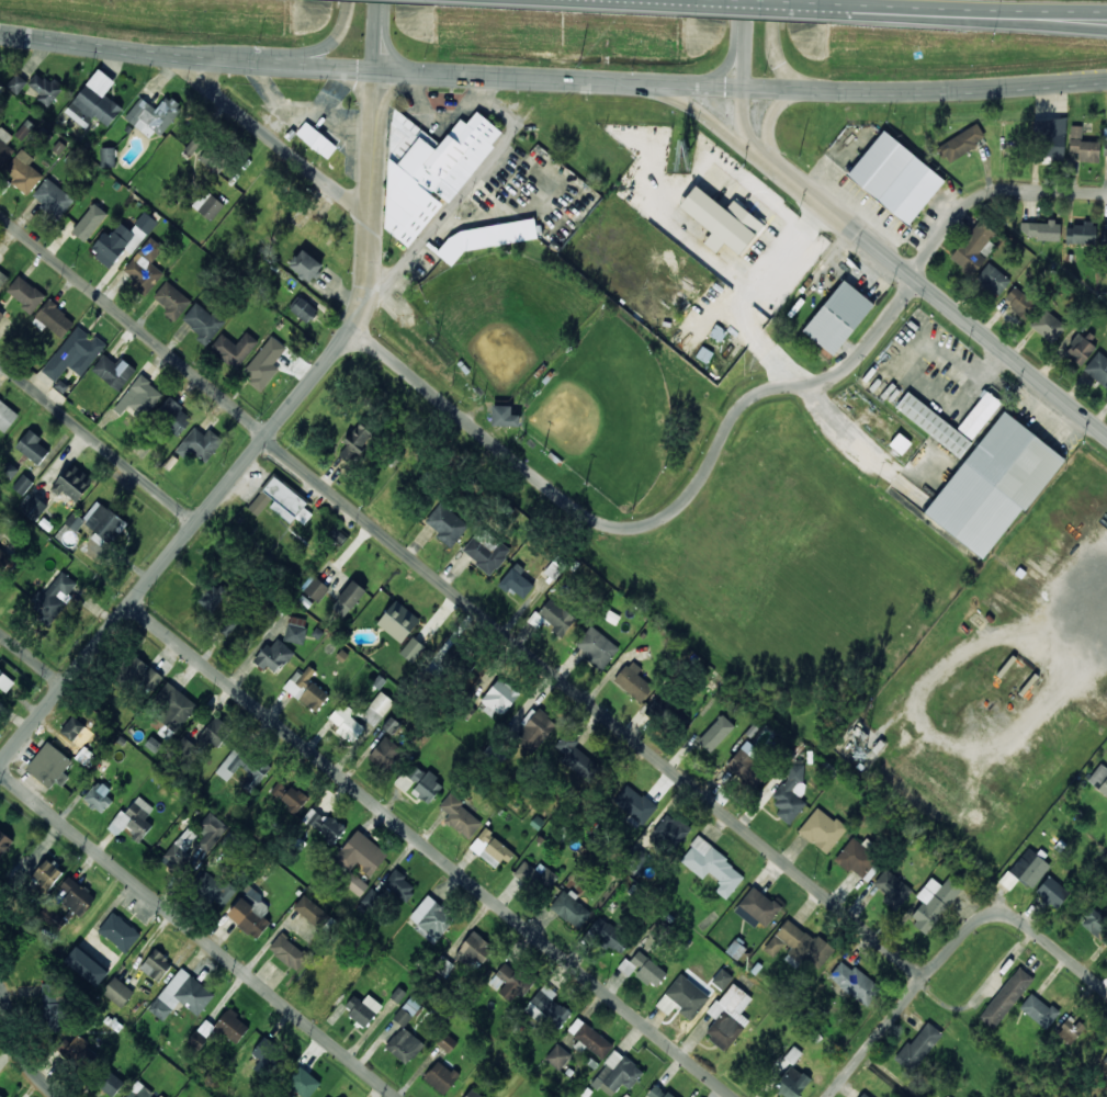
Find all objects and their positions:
road: (749, 3)
road: (377, 5)
road: (967, 9)
road: (747, 14)
road: (967, 19)
road: (375, 20)
road: (381, 20)
road: (338, 29)
road: (100, 46)
road: (373, 47)
road: (393, 50)
road: (775, 50)
road: (303, 57)
road: (746, 59)
road: (245, 61)
road: (411, 69)
road: (714, 73)
road: (640, 81)
building: (16, 83)
building: (46, 88)
road: (956, 89)
road: (775, 90)
road: (388, 97)
road: (372, 100)
building: (94, 101)
building: (153, 115)
road: (771, 116)
road: (713, 121)
road: (745, 127)
building: (316, 139)
building: (1051, 139)
road: (279, 143)
building: (960, 143)
building: (4, 146)
building: (1083, 146)
building: (1105, 147)
building: (108, 156)
building: (212, 160)
building: (22, 171)
building: (429, 171)
building: (895, 177)
building: (53, 197)
building: (207, 204)
building: (721, 220)
building: (89, 222)
building: (145, 222)
building: (1039, 229)
road: (370, 231)
building: (1078, 233)
building: (484, 238)
building: (1106, 240)
building: (112, 244)
building: (973, 248)
building: (305, 264)
building: (144, 267)
building: (2, 279)
building: (993, 279)
building: (25, 293)
road: (938, 295)
building: (172, 299)
building: (1020, 302)
building: (302, 308)
building: (1, 314)
building: (838, 317)
building: (55, 319)
building: (203, 323)
building: (1047, 325)
building: (233, 348)
building: (1080, 349)
building: (74, 353)
building: (266, 361)
building: (1097, 369)
building: (113, 371)
building: (139, 396)
building: (7, 415)
building: (979, 415)
building: (172, 416)
building: (504, 416)
building: (933, 423)
road: (725, 427)
road: (98, 441)
building: (355, 442)
building: (200, 444)
building: (32, 446)
building: (9, 468)
building: (72, 482)
building: (22, 484)
building: (993, 485)
building: (281, 501)
building: (33, 507)
building: (74, 521)
building: (104, 521)
building: (445, 523)
building: (338, 534)
road: (177, 545)
building: (486, 554)
building: (3, 558)
building: (517, 581)
building: (314, 587)
building: (212, 596)
building: (55, 597)
building: (348, 598)
road: (462, 598)
building: (556, 615)
building: (398, 621)
building: (228, 625)
building: (295, 630)
building: (597, 647)
building: (411, 649)
building: (274, 655)
road: (32, 658)
building: (142, 674)
building: (4, 681)
building: (633, 681)
building: (306, 689)
building: (498, 698)
building: (173, 706)
building: (659, 706)
building: (377, 709)
building: (347, 723)
building: (391, 725)
building: (535, 730)
building: (76, 731)
building: (213, 732)
building: (715, 733)
building: (386, 753)
building: (577, 757)
building: (747, 764)
building: (49, 766)
building: (244, 767)
building: (1099, 779)
building: (423, 783)
building: (289, 794)
building: (790, 794)
building: (99, 798)
building: (634, 804)
building: (461, 816)
building: (135, 818)
building: (323, 824)
building: (669, 828)
building: (822, 829)
building: (4, 841)
building: (194, 842)
building: (490, 848)
road: (431, 850)
building: (361, 852)
building: (858, 859)
building: (712, 866)
building: (1026, 869)
building: (47, 873)
building: (536, 875)
building: (354, 882)
building: (398, 885)
building: (214, 889)
building: (892, 889)
building: (1052, 892)
building: (77, 896)
building: (371, 898)
building: (934, 902)
building: (758, 906)
building: (571, 908)
building: (314, 912)
building: (250, 913)
building: (52, 917)
building: (431, 918)
building: (1094, 923)
building: (118, 931)
road: (197, 935)
building: (607, 935)
building: (800, 945)
building: (476, 949)
building: (287, 951)
building: (1106, 959)
road: (1071, 961)
building: (156, 964)
building: (86, 965)
building: (642, 969)
building: (722, 979)
building: (511, 982)
building: (854, 982)
road: (920, 983)
building: (117, 991)
building: (181, 995)
building: (682, 997)
building: (1005, 997)
building: (52, 1006)
building: (546, 1006)
building: (362, 1008)
building: (1038, 1010)
building: (404, 1014)
building: (727, 1016)
building: (231, 1026)
building: (1070, 1029)
building: (589, 1038)
building: (196, 1040)
building: (447, 1042)
building: (404, 1044)
building: (74, 1047)
building: (918, 1047)
road: (16, 1050)
building: (557, 1056)
building: (1106, 1059)
building: (617, 1074)
building: (790, 1074)
building: (441, 1076)
building: (1106, 1077)
building: (303, 1082)
building: (110, 1083)
building: (142, 1092)
building: (658, 1092)
building: (473, 1094)
building: (863, 1095)
building: (0, 1096)

